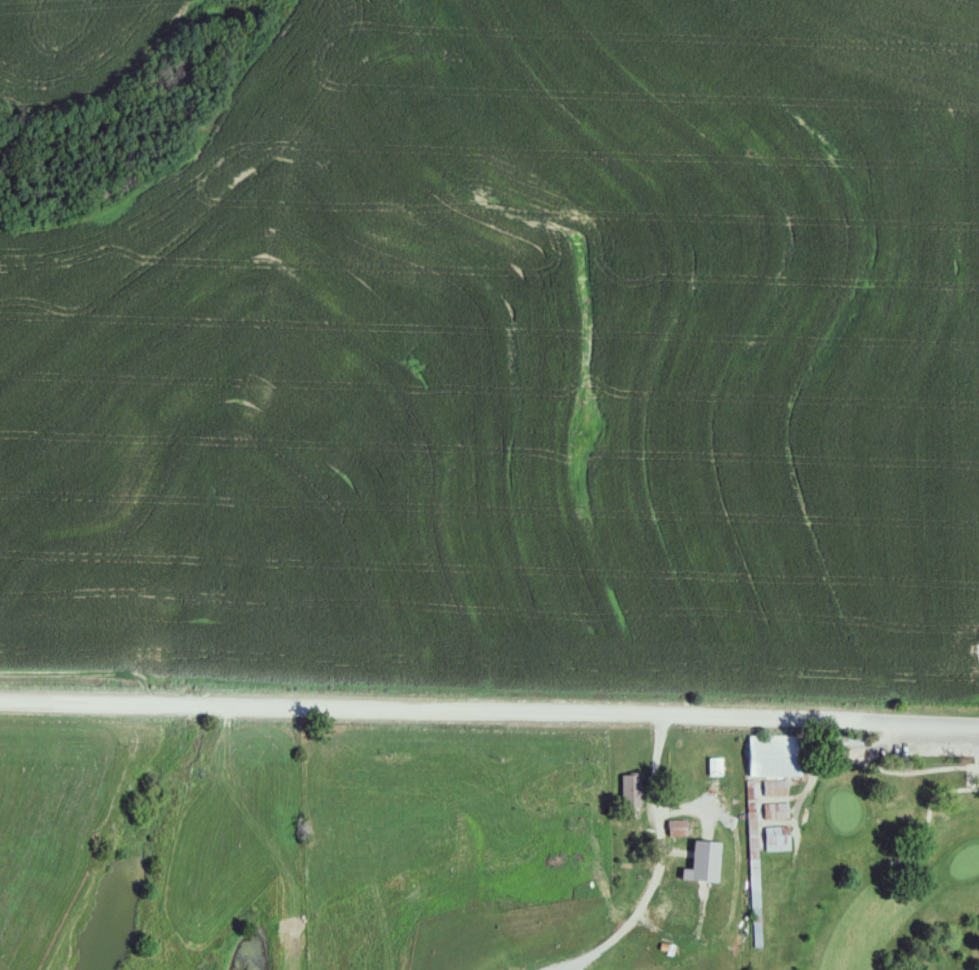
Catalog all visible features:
road: (489, 703)
building: (778, 757)
building: (715, 767)
building: (632, 789)
building: (776, 789)
building: (777, 811)
building: (679, 829)
park: (860, 848)
building: (701, 855)
building: (647, 875)

